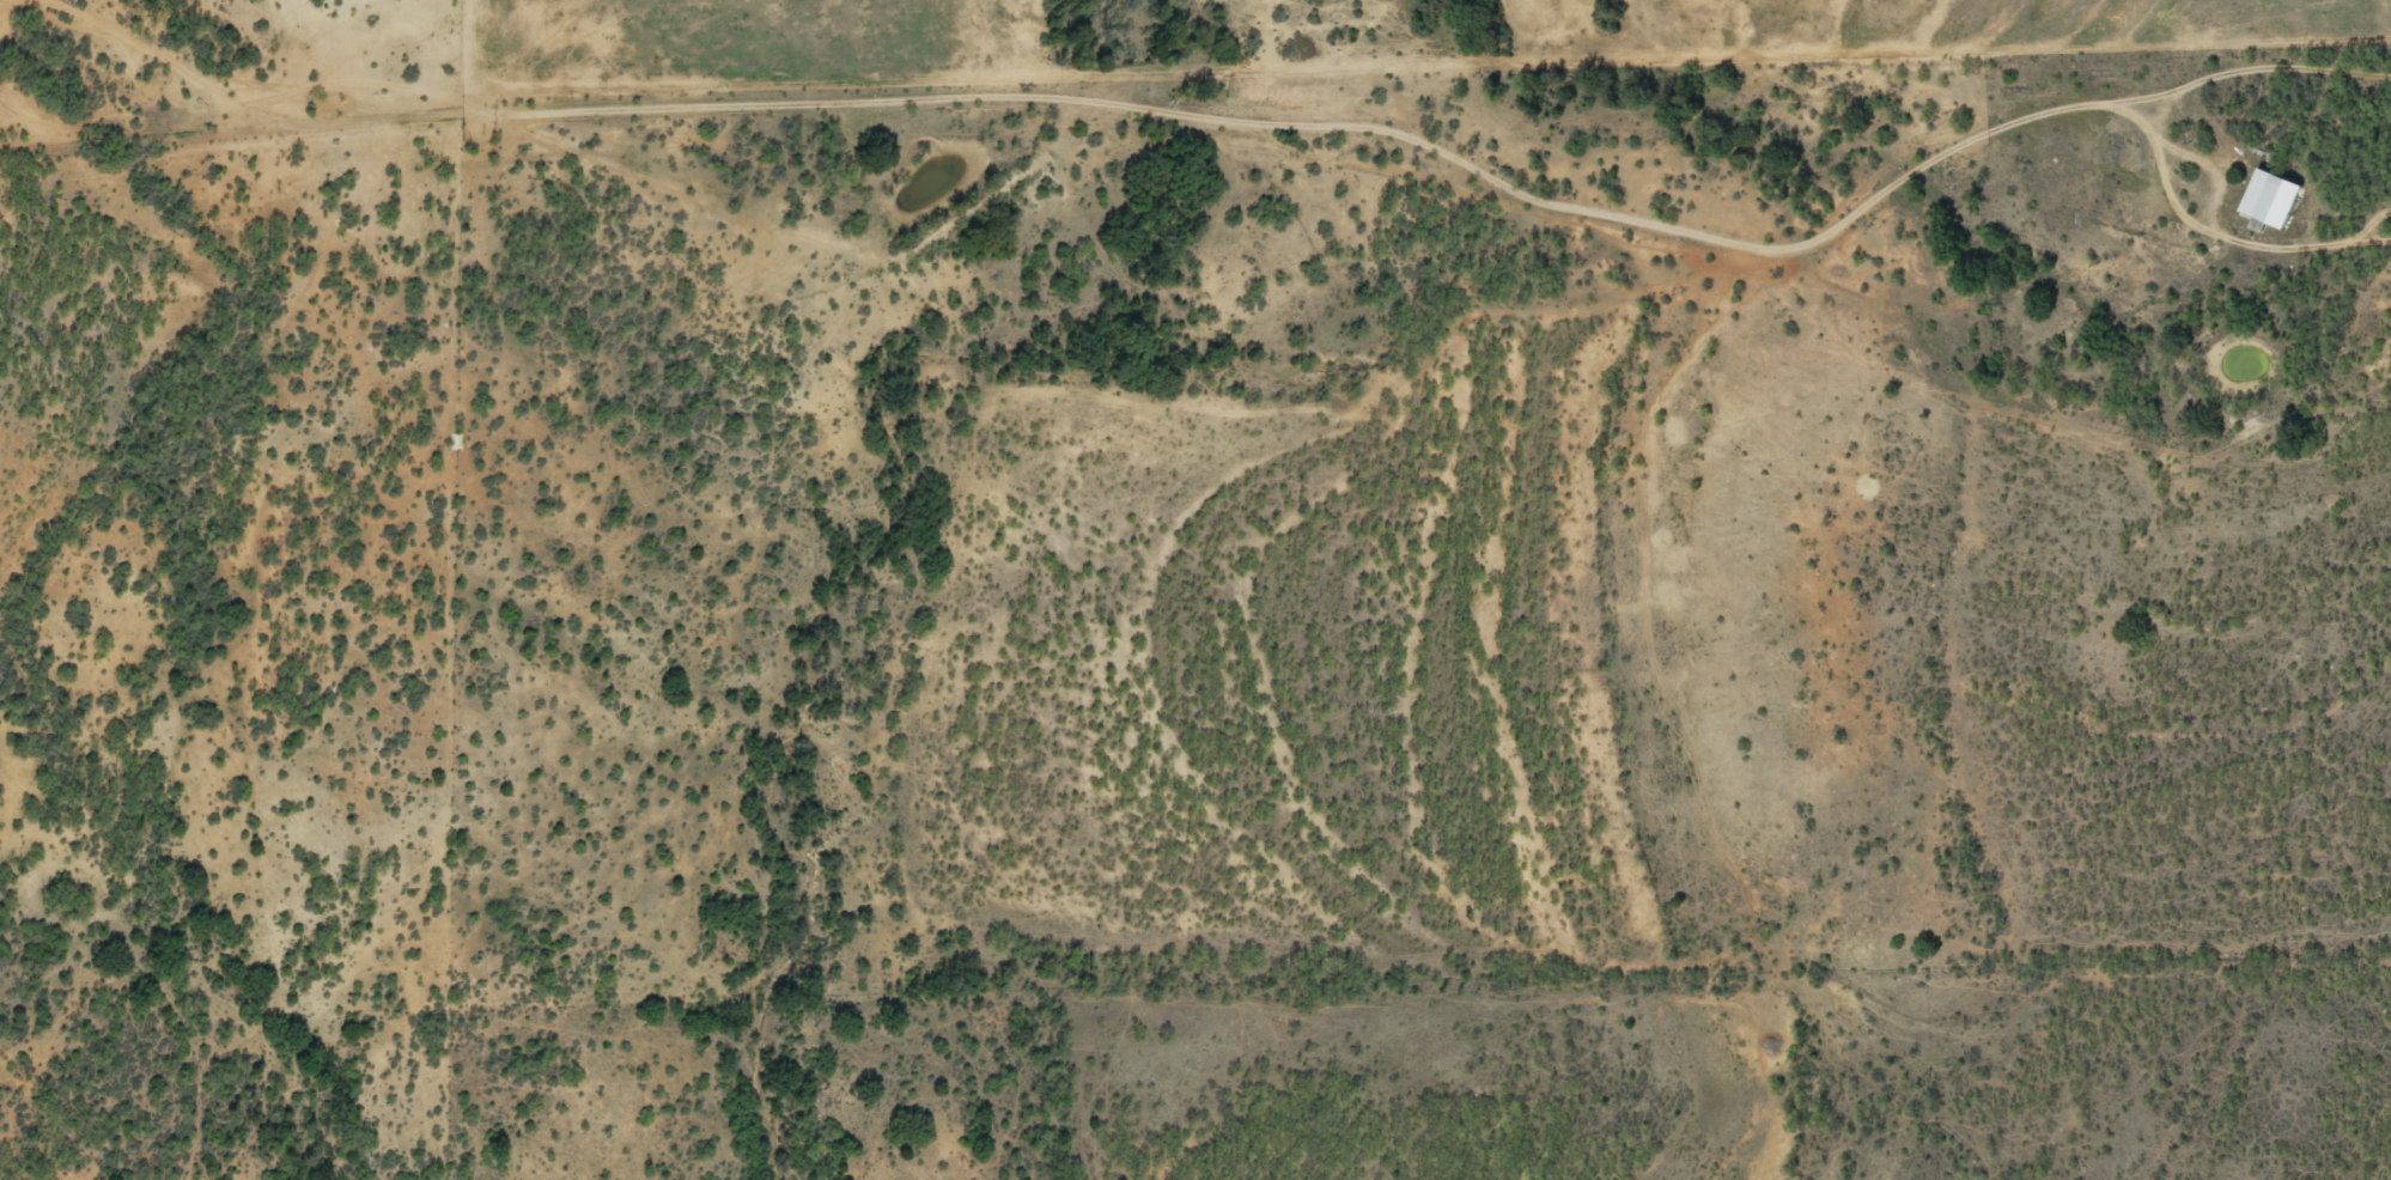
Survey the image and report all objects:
building: (2277, 196)

